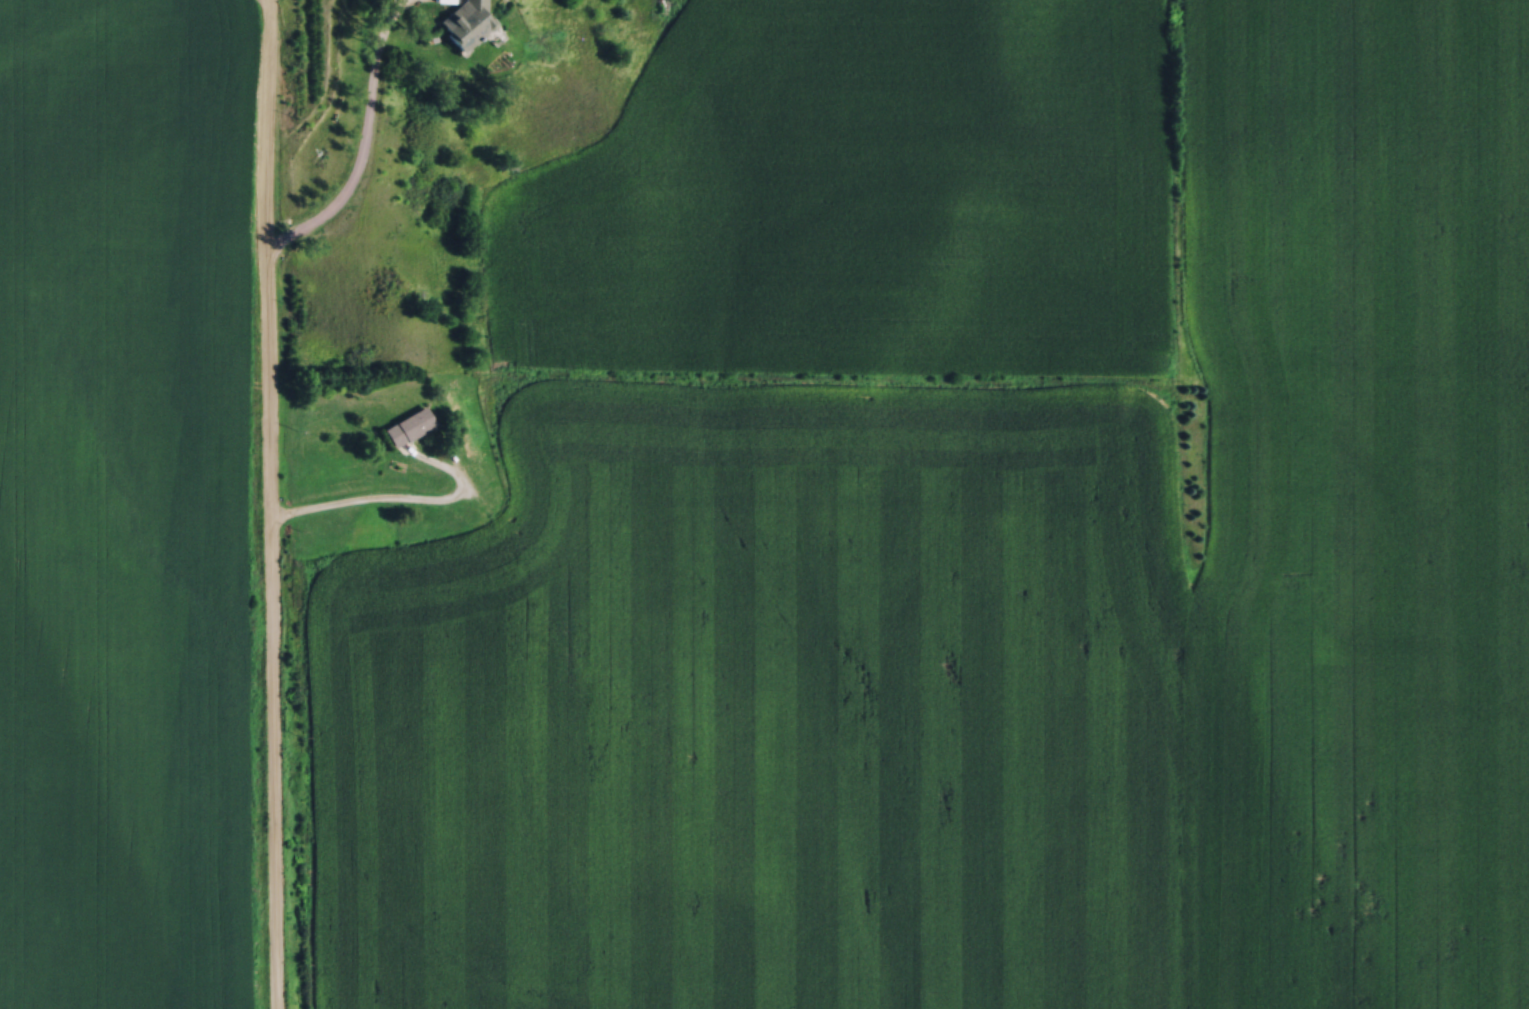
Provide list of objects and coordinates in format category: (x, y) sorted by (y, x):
building: (464, 20)
road: (365, 139)
building: (406, 424)
road: (398, 499)
road: (270, 504)
building: (366, 537)

